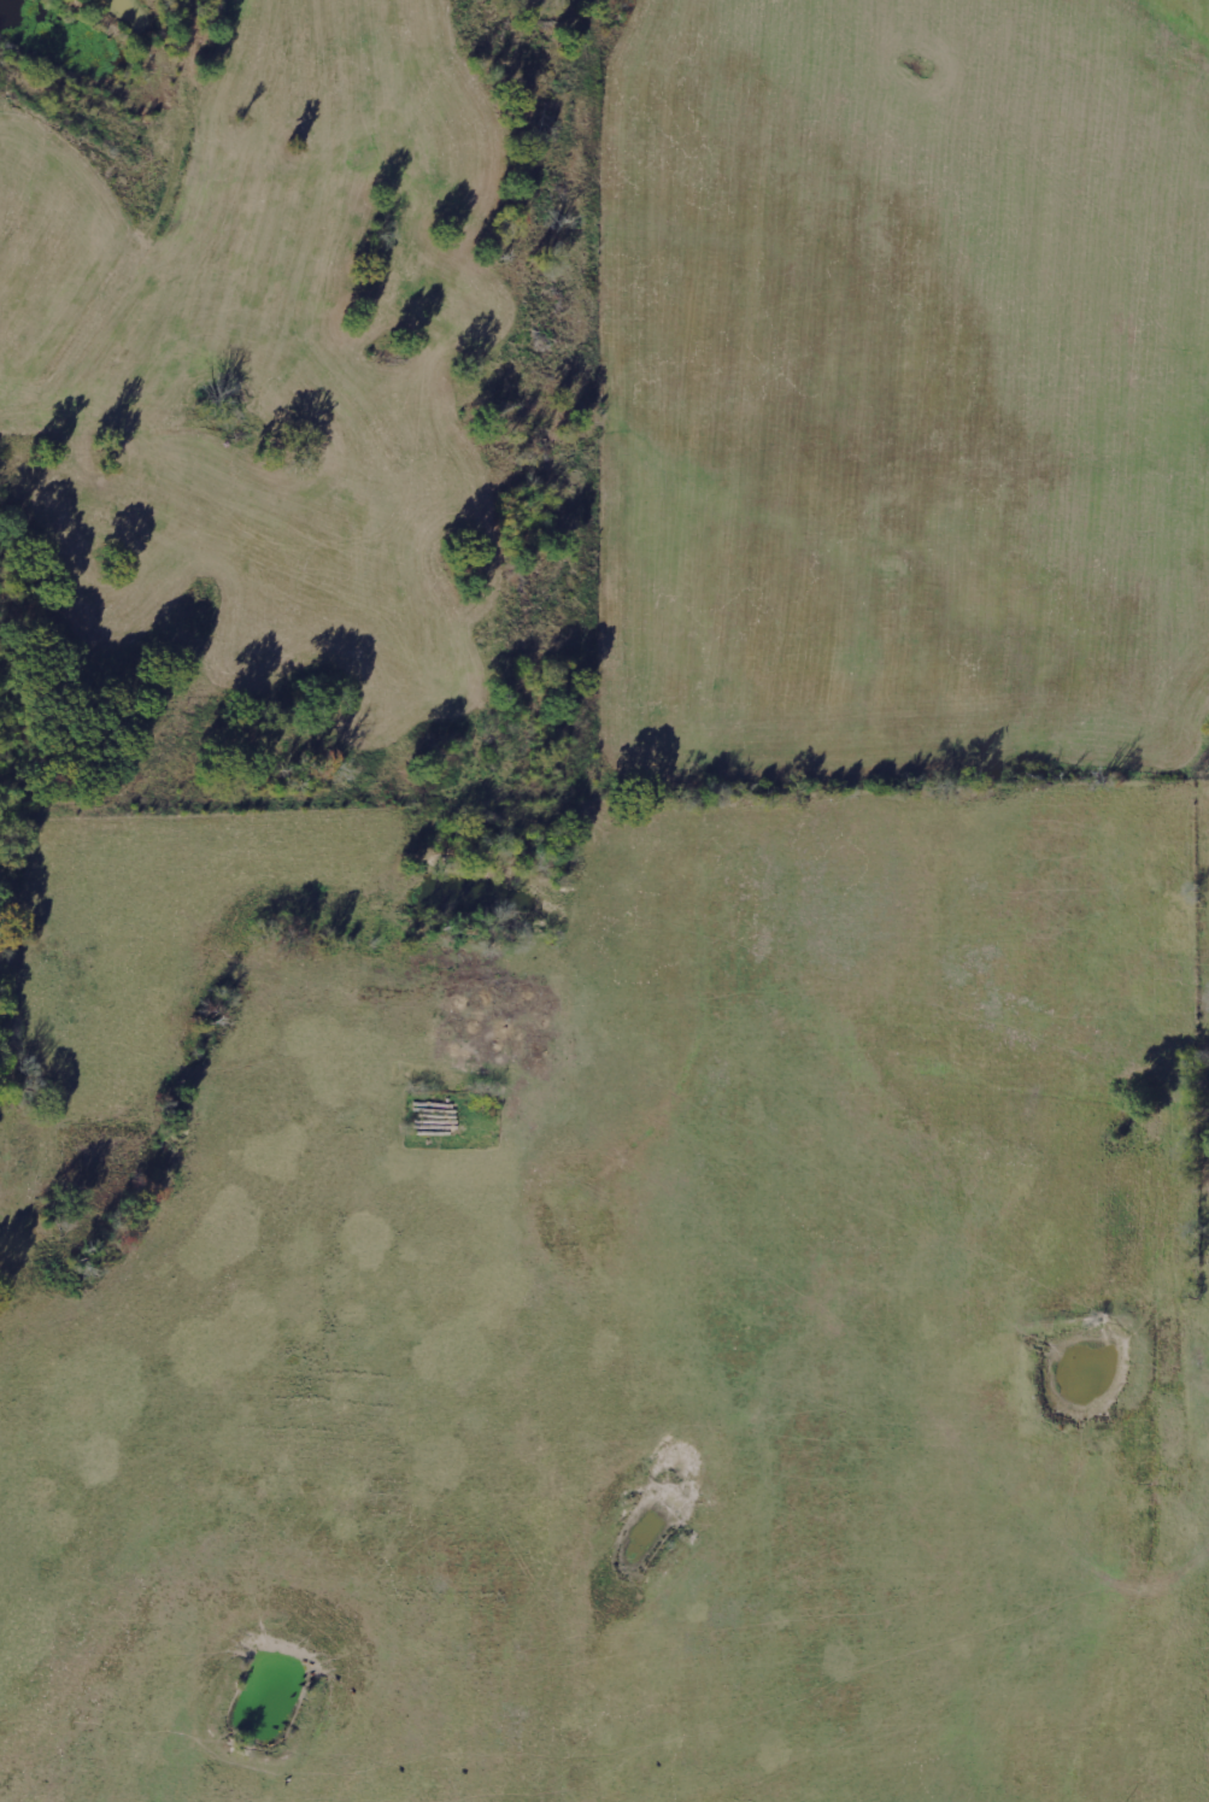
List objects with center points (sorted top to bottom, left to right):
road: (974, 1330)

